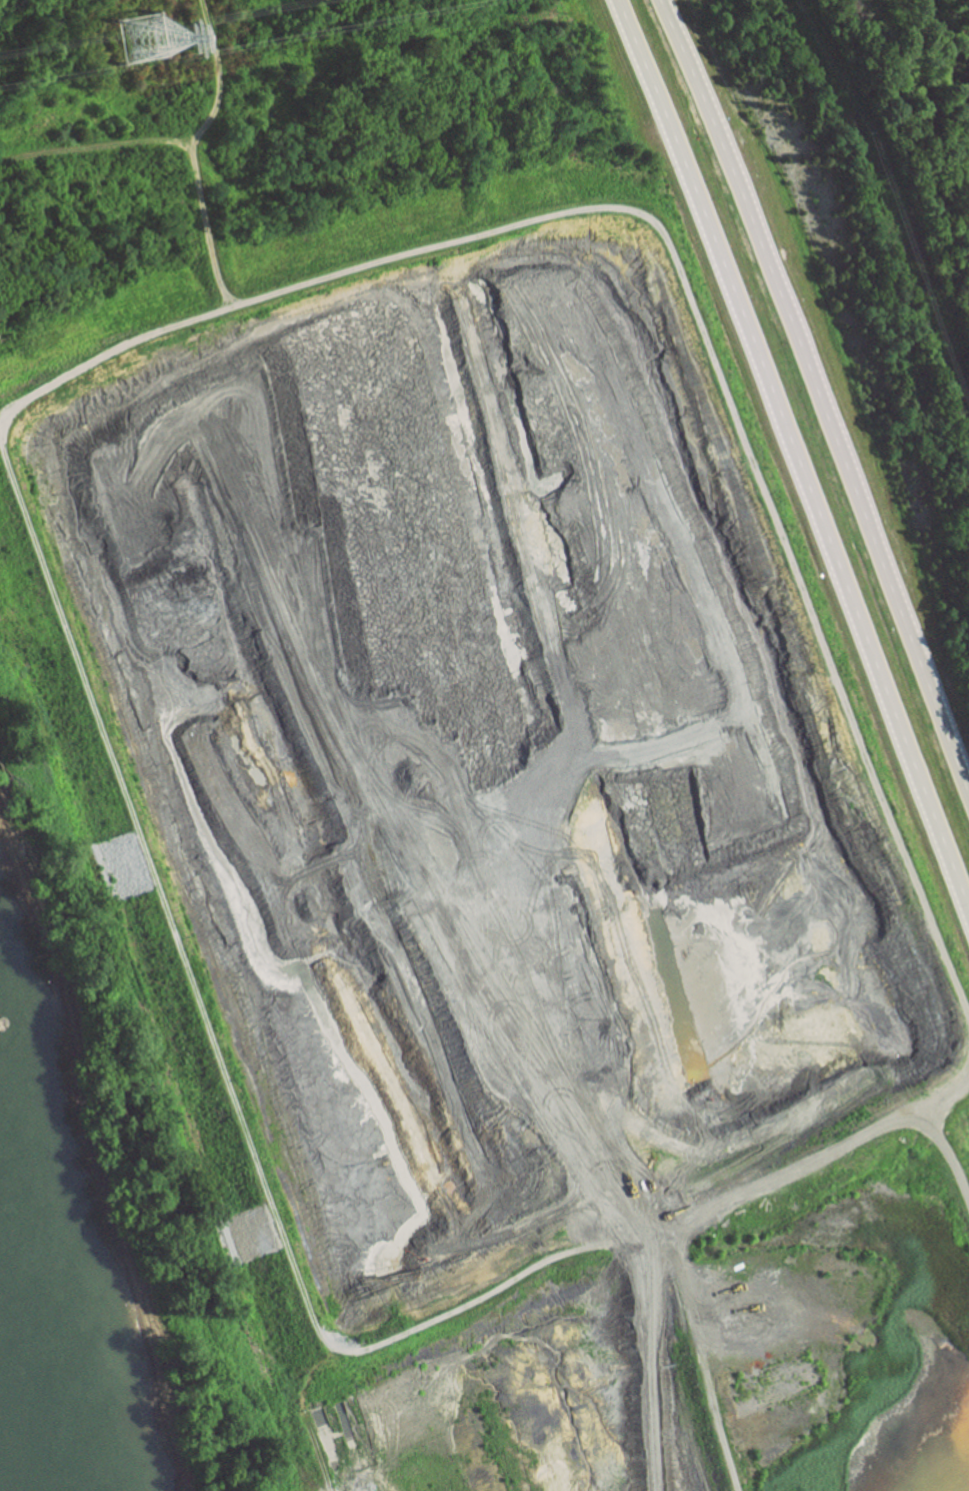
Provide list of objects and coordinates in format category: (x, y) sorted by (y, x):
power tower: (138, 46)
road: (884, 148)
road: (938, 333)
road: (821, 393)
road: (795, 456)

